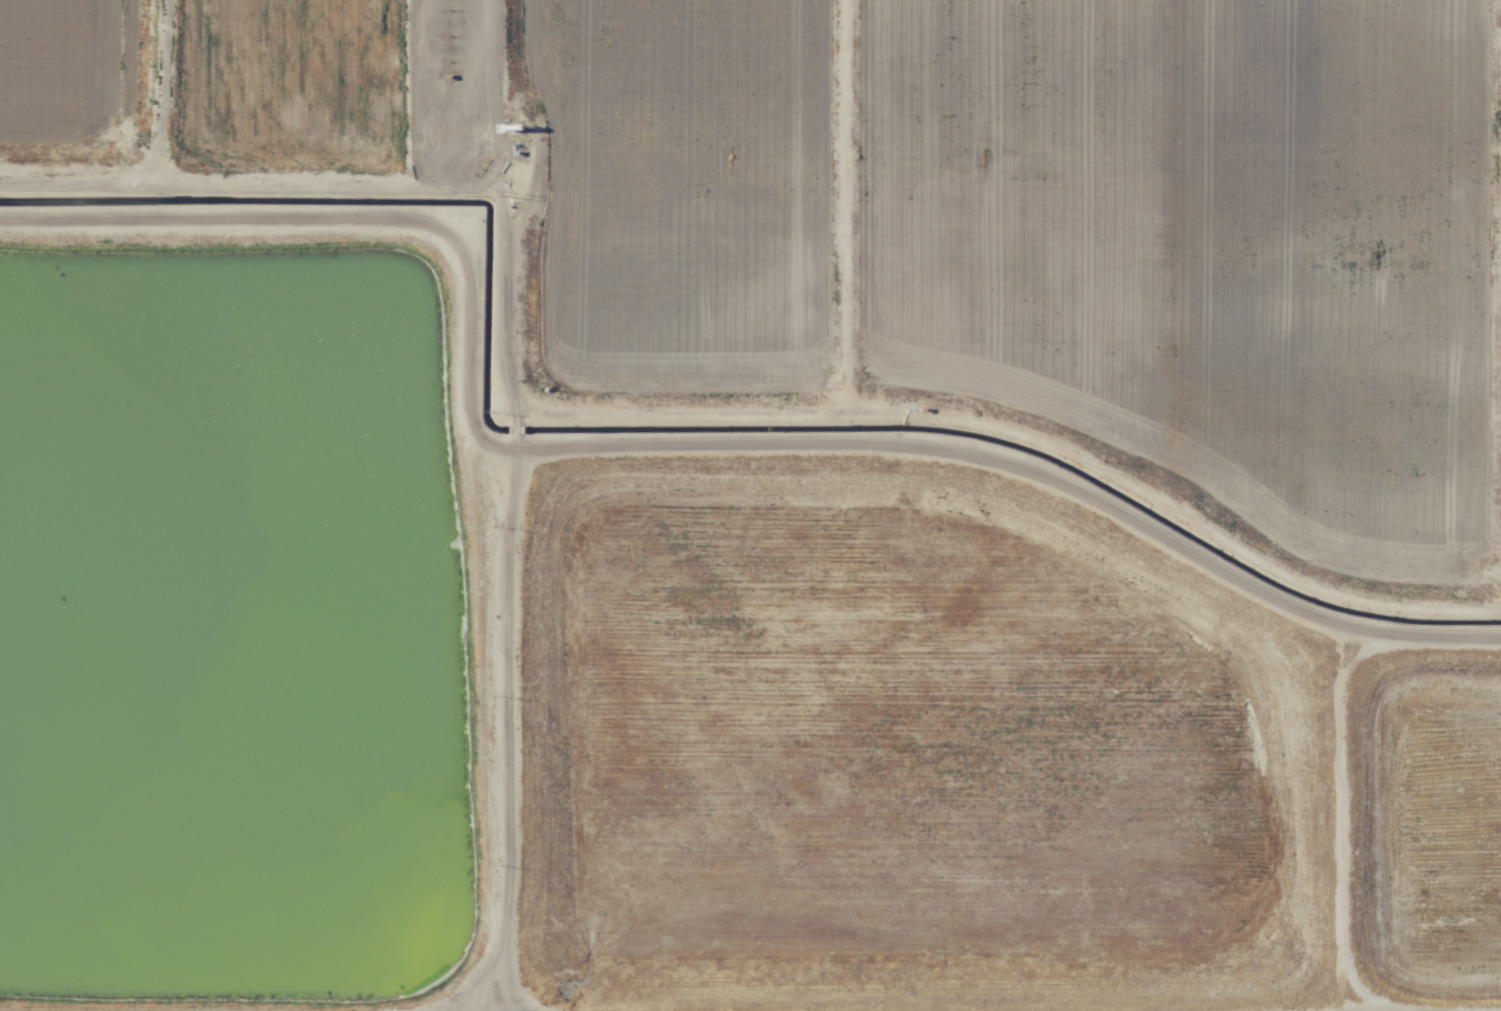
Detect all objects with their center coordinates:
wastewater plant: (72, 75)
wastewater plant: (336, 82)
road: (166, 91)
road: (501, 94)
wastewater plant: (688, 186)
road: (849, 205)
wastewater plant: (1209, 236)
road: (668, 410)
road: (678, 444)
wastewater plant: (750, 505)
wastewater plant: (223, 628)
road: (508, 713)
wastewater plant: (904, 748)
road: (1346, 818)
wastewater plant: (1439, 826)

